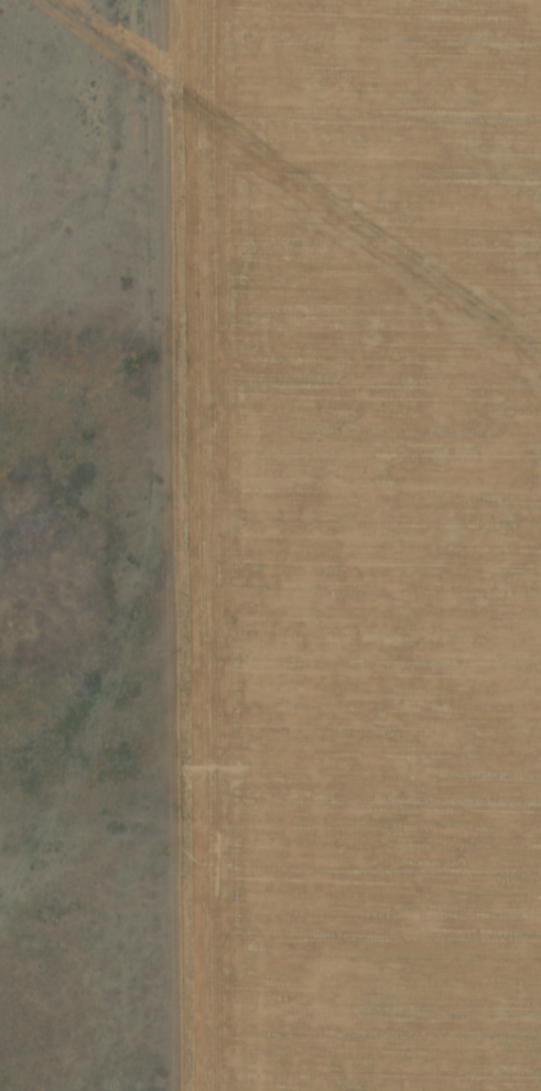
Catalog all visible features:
road: (84, 317)
road: (142, 470)

